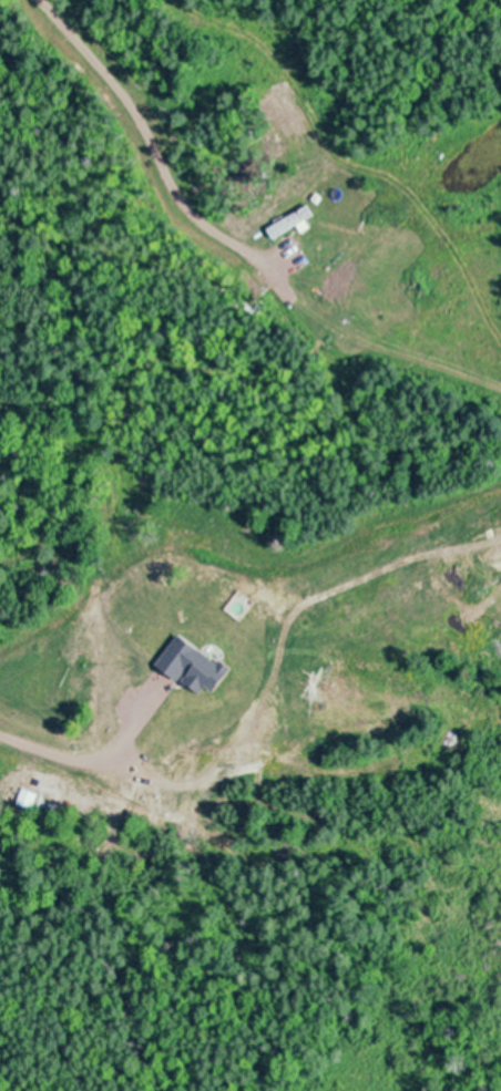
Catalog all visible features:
building: (192, 663)

